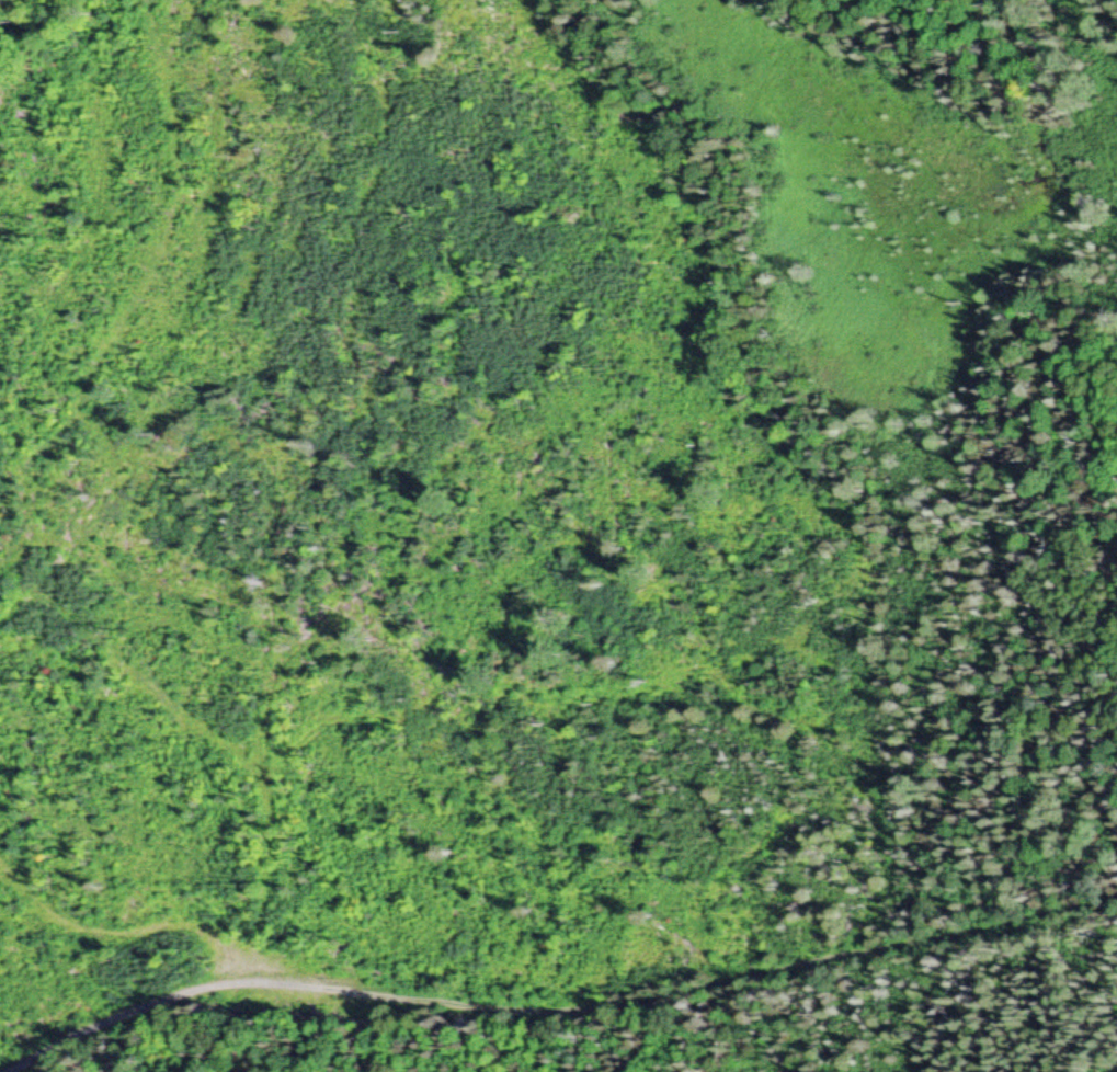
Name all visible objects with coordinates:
road: (561, 1013)

